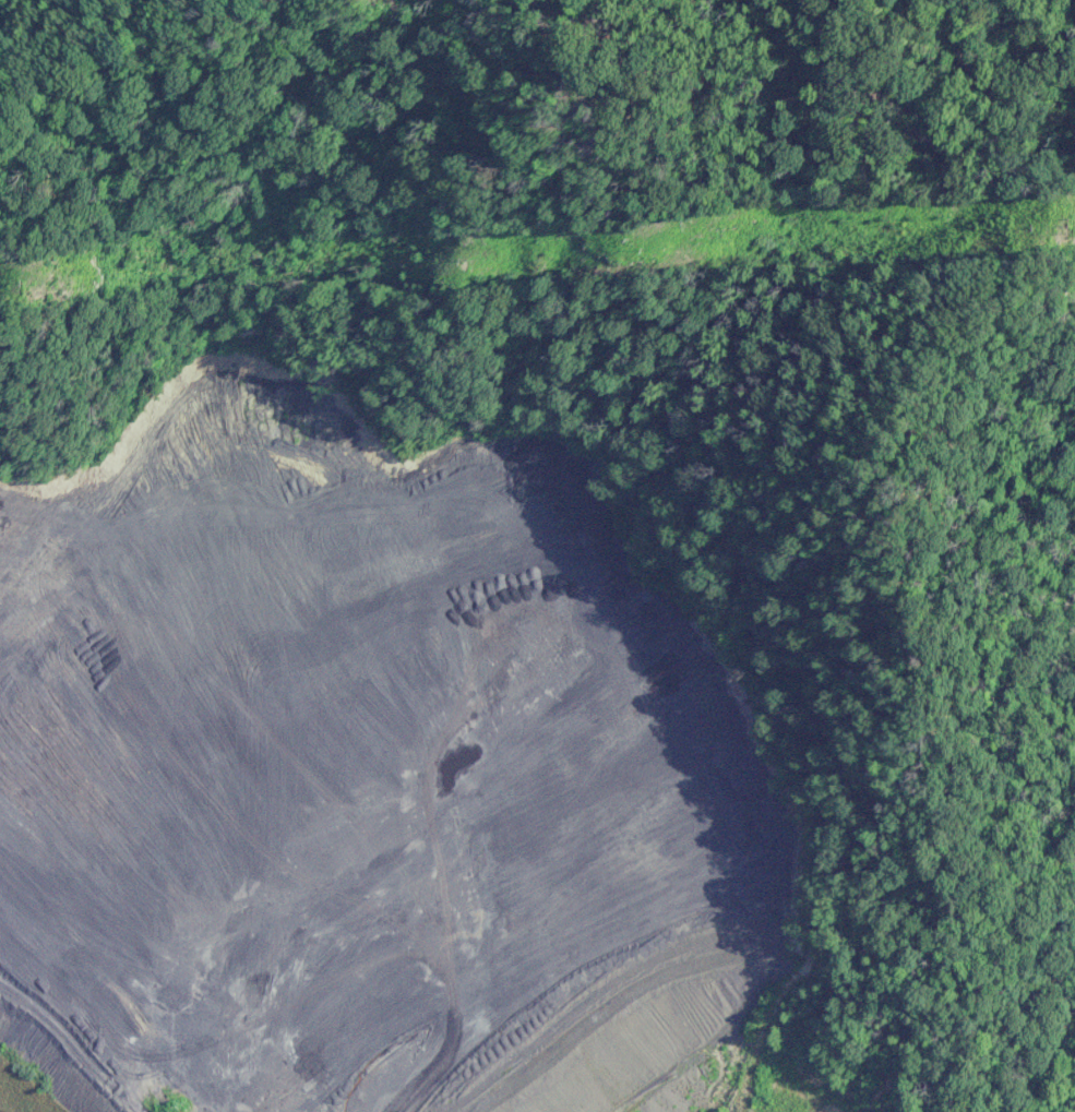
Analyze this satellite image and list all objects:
quarry: (371, 778)

